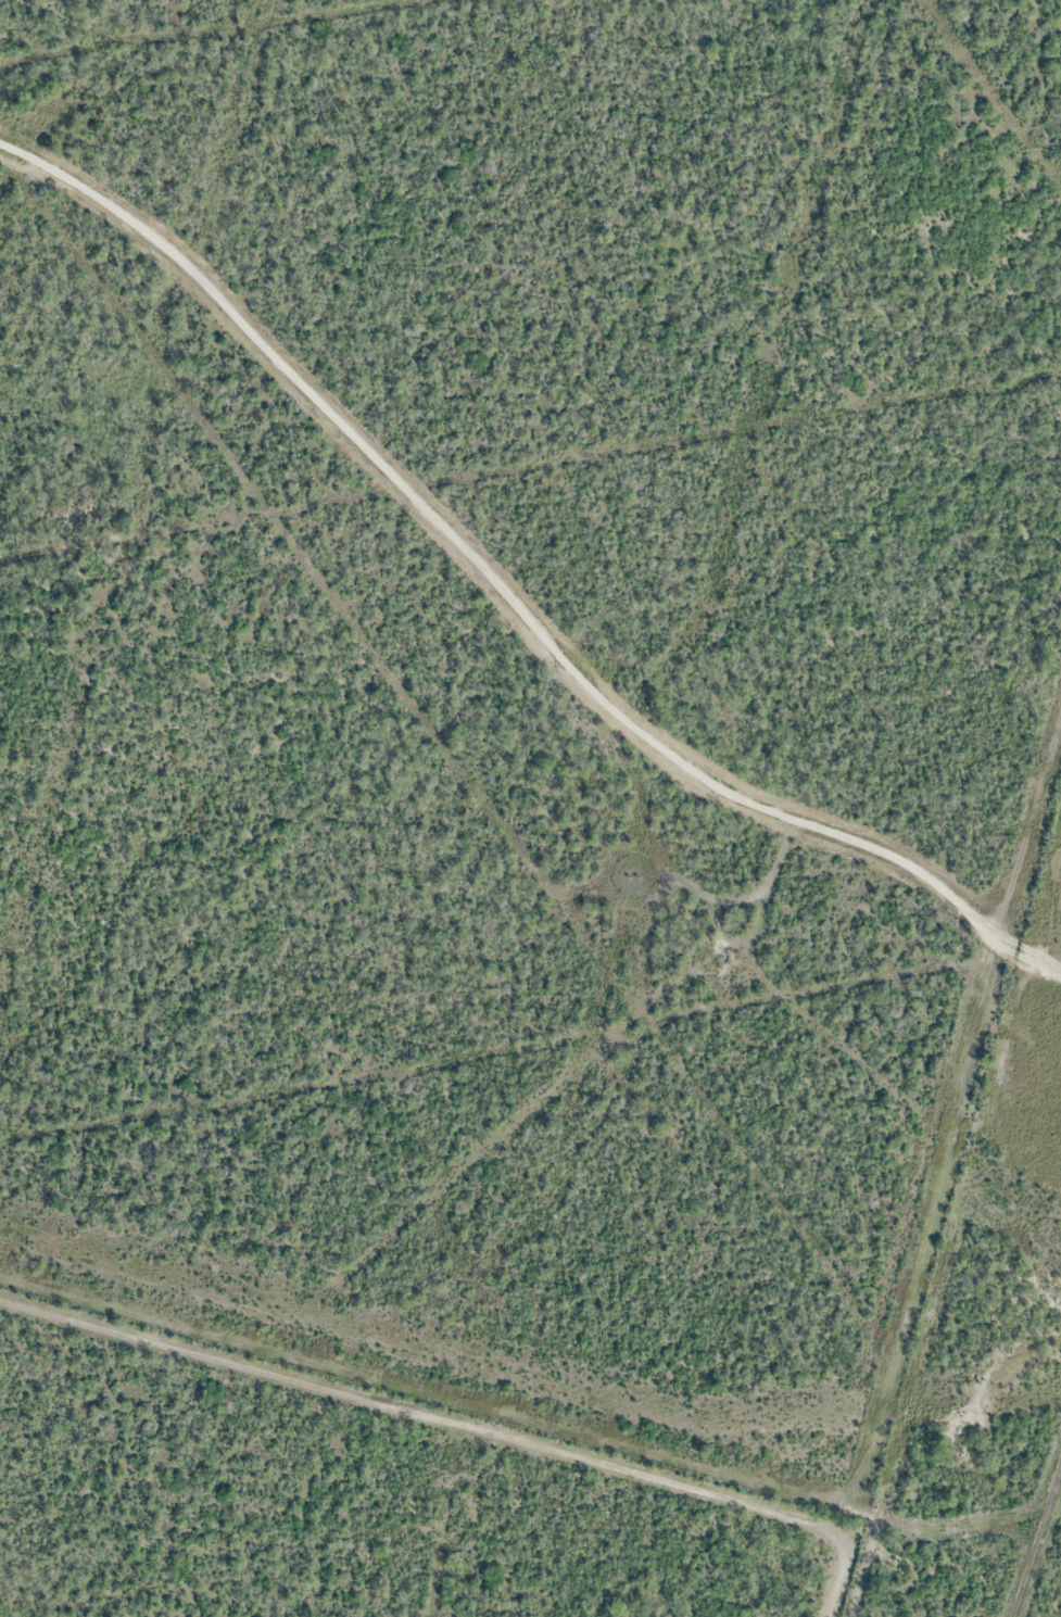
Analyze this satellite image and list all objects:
road: (506, 596)

